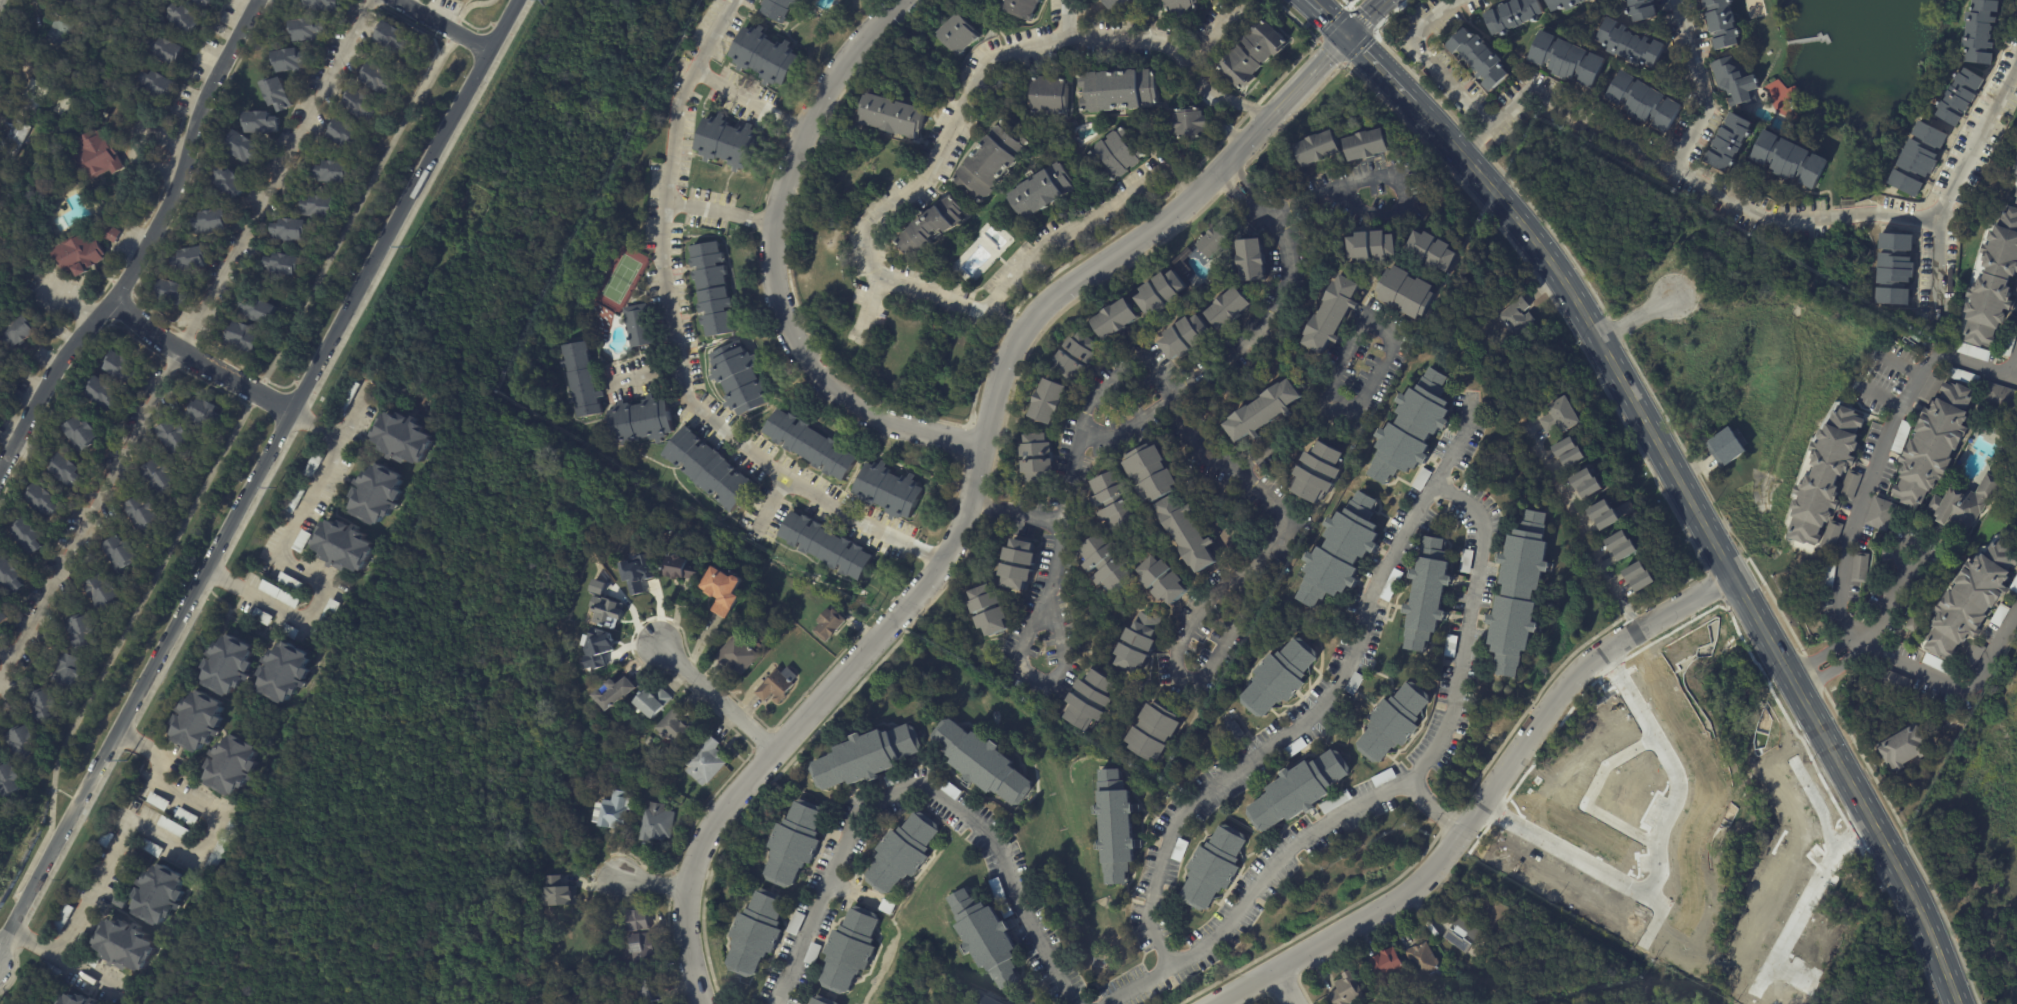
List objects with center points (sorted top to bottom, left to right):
building: (74, 0)
building: (1591, 0)
building: (79, 1)
building: (206, 3)
building: (326, 4)
building: (1114, 4)
building: (1563, 4)
building: (1179, 5)
building: (1021, 8)
building: (777, 9)
building: (1642, 10)
building: (1514, 15)
road: (1330, 17)
road: (1367, 17)
building: (187, 20)
road: (1070, 20)
building: (1722, 23)
building: (64, 27)
road: (444, 27)
road: (508, 27)
building: (314, 29)
building: (1983, 31)
building: (958, 34)
traffic signals: (1349, 34)
building: (397, 36)
road: (1209, 44)
building: (1630, 45)
building: (169, 49)
building: (1252, 54)
road: (1434, 56)
building: (764, 57)
building: (1479, 58)
building: (1567, 59)
building: (296, 60)
road: (1382, 67)
building: (383, 78)
building: (1735, 81)
building: (159, 83)
road: (1699, 87)
building: (1118, 90)
building: (280, 94)
building: (1048, 96)
building: (1962, 97)
building: (35, 99)
building: (1644, 101)
building: (366, 103)
road: (750, 104)
road: (1243, 106)
building: (892, 116)
building: (267, 123)
road: (1224, 123)
building: (1188, 124)
building: (349, 135)
road: (954, 138)
building: (16, 140)
building: (725, 143)
building: (1730, 143)
building: (1367, 145)
building: (247, 147)
building: (1318, 148)
road: (1636, 148)
building: (102, 155)
building: (1119, 155)
building: (1919, 159)
building: (1789, 160)
building: (991, 161)
building: (40, 164)
road: (1391, 171)
building: (339, 172)
road: (1955, 179)
road: (1249, 181)
building: (236, 183)
building: (1042, 190)
road: (1235, 195)
building: (2015, 197)
building: (323, 207)
road: (722, 211)
road: (1884, 213)
building: (219, 222)
road: (1084, 223)
building: (928, 228)
building: (298, 230)
building: (116, 234)
building: (1214, 240)
road: (147, 246)
building: (1371, 248)
building: (1433, 251)
building: (82, 255)
building: (197, 259)
building: (1251, 260)
road: (774, 264)
building: (287, 265)
building: (1182, 268)
building: (1896, 271)
building: (1995, 285)
building: (714, 289)
building: (1161, 292)
building: (1408, 292)
building: (180, 293)
building: (1228, 308)
road: (871, 310)
building: (266, 311)
building: (1332, 315)
building: (1518, 315)
road: (1638, 315)
building: (1114, 319)
building: (637, 326)
building: (27, 333)
building: (1184, 336)
building: (249, 339)
building: (2010, 341)
road: (181, 342)
road: (1353, 342)
road: (677, 344)
building: (1974, 353)
road: (1235, 355)
building: (1073, 357)
road: (201, 361)
road: (1900, 364)
building: (125, 366)
building: (5, 371)
road: (646, 374)
building: (1964, 377)
building: (738, 379)
building: (578, 380)
building: (1932, 389)
building: (108, 393)
building: (401, 393)
road: (1880, 397)
building: (2000, 398)
building: (346, 399)
building: (1046, 403)
road: (1176, 404)
building: (208, 414)
building: (1263, 414)
building: (1560, 417)
building: (639, 423)
road: (319, 426)
building: (1413, 428)
building: (87, 435)
building: (1902, 436)
building: (402, 437)
building: (179, 438)
road: (1887, 438)
building: (809, 446)
road: (227, 447)
building: (1935, 447)
building: (1726, 449)
building: (1569, 454)
building: (1037, 458)
building: (312, 466)
building: (709, 469)
building: (75, 472)
building: (1321, 472)
building: (1151, 476)
building: (164, 478)
building: (1829, 483)
building: (1586, 485)
building: (887, 492)
road: (972, 492)
road: (251, 494)
building: (374, 495)
road: (774, 499)
building: (293, 500)
building: (50, 502)
building: (1115, 504)
building: (1965, 506)
road: (1016, 511)
building: (148, 514)
building: (1881, 515)
building: (1603, 516)
road: (1583, 530)
building: (1190, 535)
road: (1710, 537)
building: (36, 538)
building: (300, 542)
building: (825, 545)
building: (341, 546)
building: (1621, 547)
building: (1342, 551)
building: (127, 556)
building: (1465, 560)
building: (1016, 565)
building: (1106, 566)
road: (286, 567)
building: (1861, 568)
building: (679, 570)
building: (636, 573)
building: (1830, 575)
building: (17, 577)
building: (1639, 578)
building: (289, 583)
building: (1161, 583)
building: (597, 586)
building: (2014, 587)
building: (720, 591)
building: (109, 592)
building: (1427, 594)
building: (1519, 594)
building: (277, 596)
road: (1889, 601)
building: (1973, 602)
building: (606, 611)
building: (771, 613)
building: (986, 614)
building: (260, 616)
building: (2001, 616)
building: (6, 617)
building: (324, 619)
building: (828, 625)
building: (1914, 625)
road: (1852, 629)
building: (288, 630)
building: (87, 632)
building: (1140, 642)
building: (597, 647)
road: (1875, 647)
road: (1823, 652)
building: (735, 657)
road: (7, 658)
building: (1973, 658)
building: (1939, 665)
building: (228, 667)
building: (75, 670)
road: (1834, 670)
building: (282, 672)
building: (1280, 680)
building: (1899, 683)
building: (1019, 684)
road: (1970, 684)
building: (775, 688)
building: (612, 692)
road: (715, 694)
building: (1092, 700)
building: (649, 701)
building: (51, 706)
road: (1326, 708)
road: (354, 714)
building: (198, 722)
building: (1394, 724)
building: (673, 727)
building: (1234, 732)
building: (1153, 737)
building: (648, 740)
building: (29, 743)
building: (1904, 749)
building: (866, 756)
building: (704, 761)
building: (981, 762)
building: (231, 766)
road: (1671, 767)
park: (382, 779)
building: (15, 780)
road: (924, 789)
building: (1298, 793)
road: (1391, 794)
road: (1584, 797)
building: (157, 801)
road: (1484, 802)
road: (1810, 803)
building: (612, 811)
road: (1436, 811)
building: (185, 817)
building: (655, 823)
building: (172, 827)
building: (1113, 828)
building: (105, 839)
building: (794, 844)
building: (219, 845)
building: (150, 848)
road: (181, 852)
building: (903, 853)
road: (1573, 855)
building: (1214, 869)
road: (648, 880)
building: (77, 889)
building: (556, 892)
building: (158, 896)
road: (1804, 899)
building: (119, 901)
road: (224, 909)
building: (1495, 916)
building: (60, 919)
building: (637, 920)
road: (1655, 923)
building: (756, 933)
building: (1461, 933)
building: (986, 936)
road: (6, 944)
building: (80, 944)
building: (124, 944)
building: (639, 946)
building: (850, 950)
road: (62, 960)
building: (89, 960)
building: (1425, 962)
building: (1387, 964)
building: (49, 971)
road: (1788, 976)
road: (168, 982)
road: (255, 986)
road: (1284, 988)
building: (646, 990)
building: (1346, 990)
building: (1385, 994)
building: (73, 999)
building: (822, 1000)
building: (985, 1000)
building: (94, 1001)
building: (1571, 1002)

